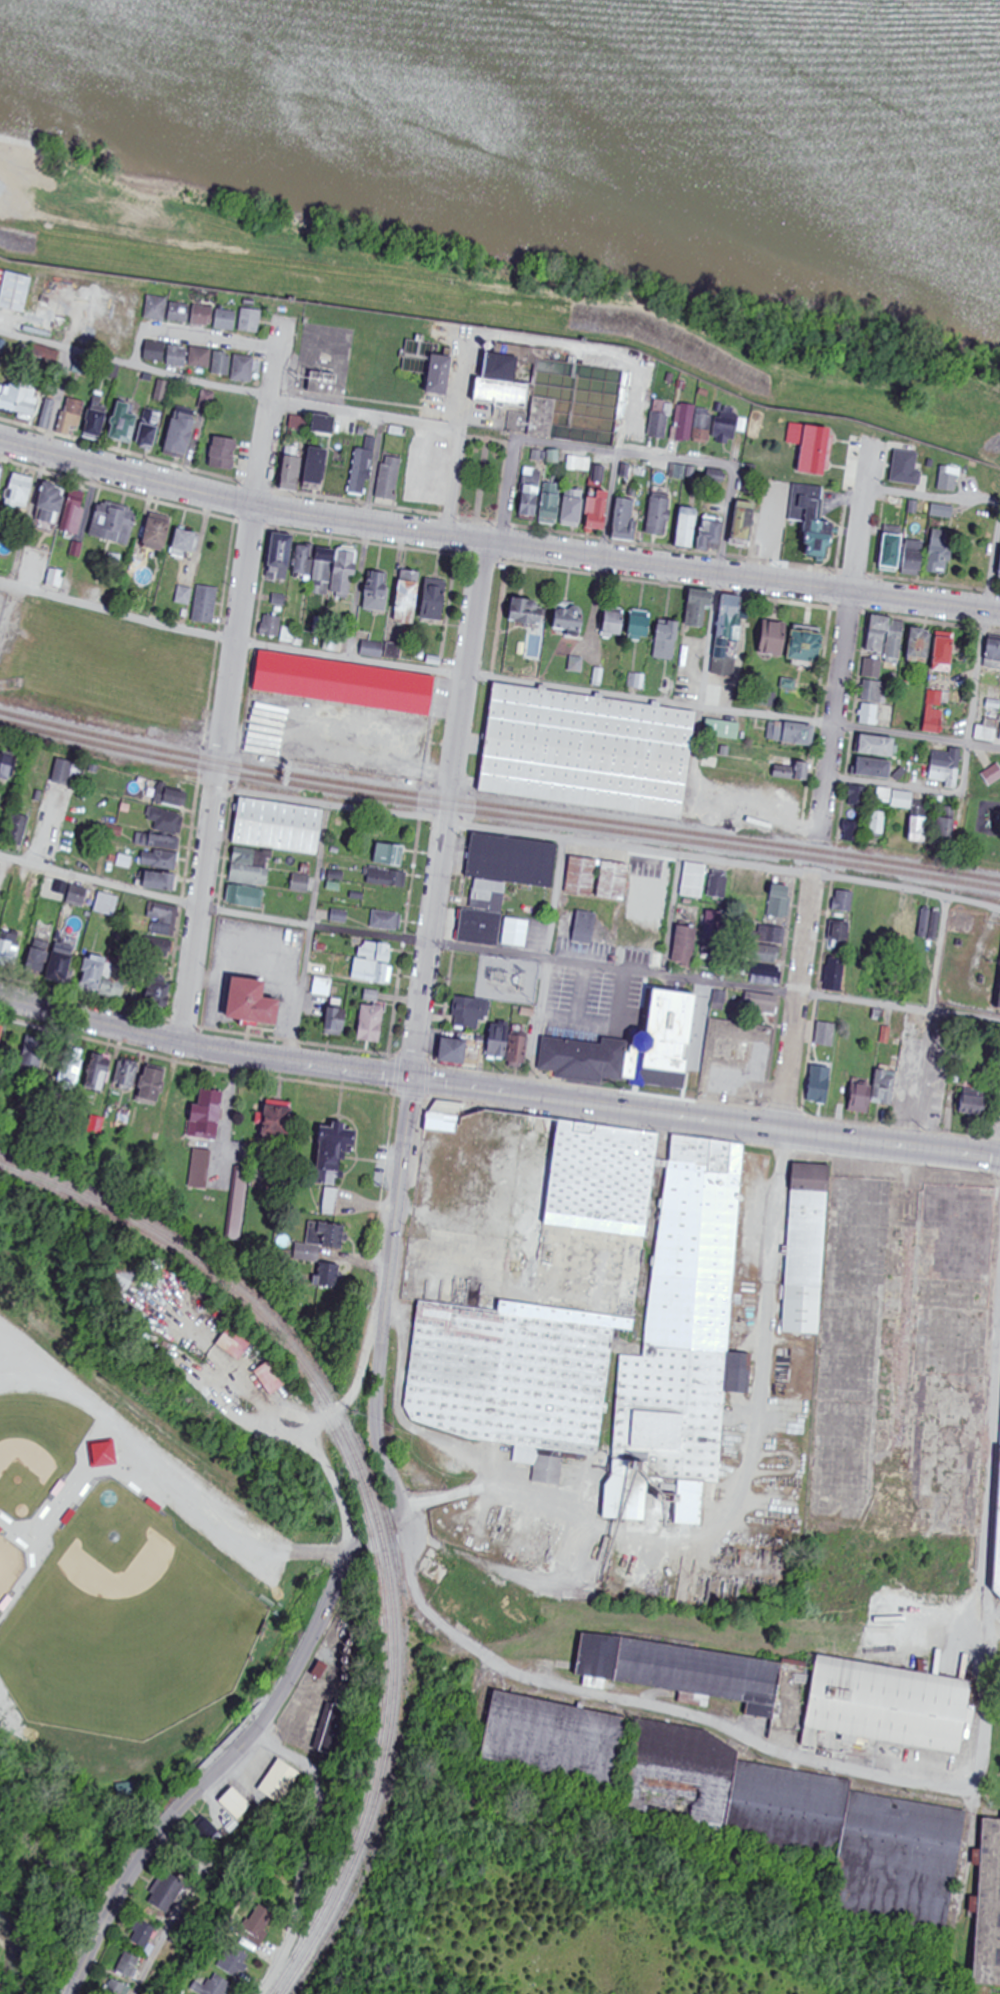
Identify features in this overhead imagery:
building: (252, 322)
road: (192, 337)
road: (278, 339)
road: (134, 364)
building: (443, 376)
road: (639, 379)
building: (504, 384)
building: (662, 421)
road: (415, 425)
building: (694, 427)
building: (728, 429)
road: (487, 437)
road: (566, 447)
building: (814, 449)
road: (678, 460)
road: (42, 467)
building: (950, 480)
park: (482, 482)
road: (507, 492)
road: (983, 503)
road: (496, 542)
road: (710, 631)
road: (844, 640)
road: (497, 679)
building: (336, 684)
road: (227, 695)
building: (591, 752)
road: (964, 770)
building: (992, 774)
railway: (498, 807)
road: (449, 810)
park: (977, 810)
railway: (498, 817)
road: (608, 844)
building: (514, 861)
road: (309, 933)
road: (497, 953)
road: (937, 955)
road: (546, 967)
power substation: (510, 981)
road: (662, 983)
road: (798, 1003)
road: (497, 1090)
building: (446, 1117)
building: (595, 1181)
building: (800, 1245)
road: (391, 1296)
building: (686, 1338)
building: (511, 1380)
park: (33, 1441)
road: (168, 1481)
railway: (362, 1501)
road: (399, 1514)
flagpole: (35, 1538)
park: (4, 1564)
park: (125, 1568)
building: (999, 1585)
park: (125, 1637)
building: (680, 1672)
road: (644, 1704)
road: (985, 1704)
building: (892, 1705)
building: (558, 1739)
road: (220, 1768)
building: (806, 1821)
road: (182, 1907)
building: (991, 1908)

